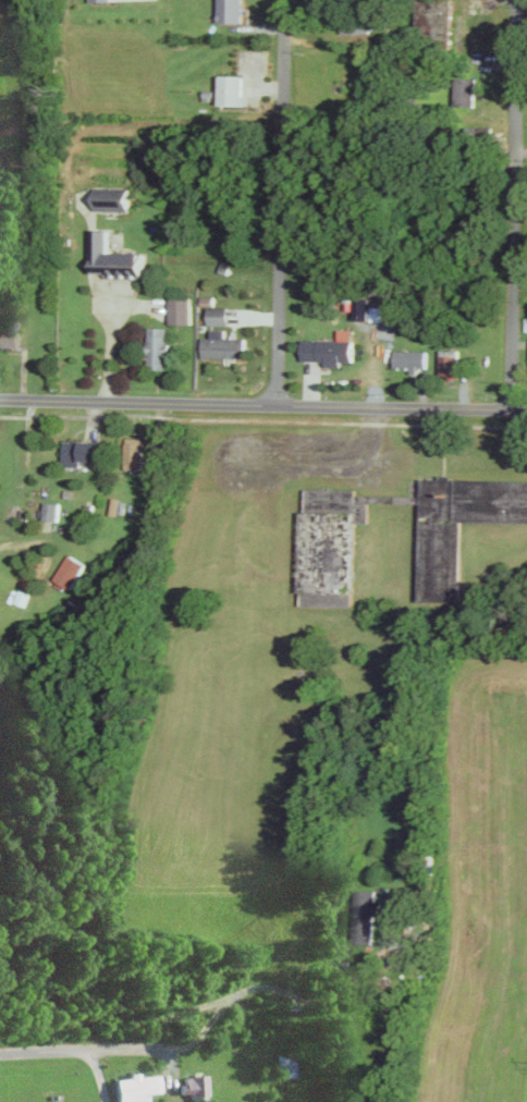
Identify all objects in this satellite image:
building: (100, 0)
building: (232, 11)
building: (233, 89)
building: (465, 91)
building: (112, 198)
road: (279, 204)
road: (515, 206)
building: (112, 256)
building: (180, 308)
building: (218, 316)
building: (526, 323)
building: (10, 333)
road: (110, 344)
building: (224, 345)
building: (157, 347)
building: (331, 350)
building: (412, 360)
building: (450, 363)
road: (262, 407)
building: (81, 452)
building: (134, 453)
building: (51, 511)
road: (14, 542)
building: (328, 561)
building: (70, 572)
building: (366, 915)
road: (229, 999)
road: (44, 1050)
building: (286, 1065)
road: (100, 1074)
building: (136, 1087)
building: (196, 1087)

